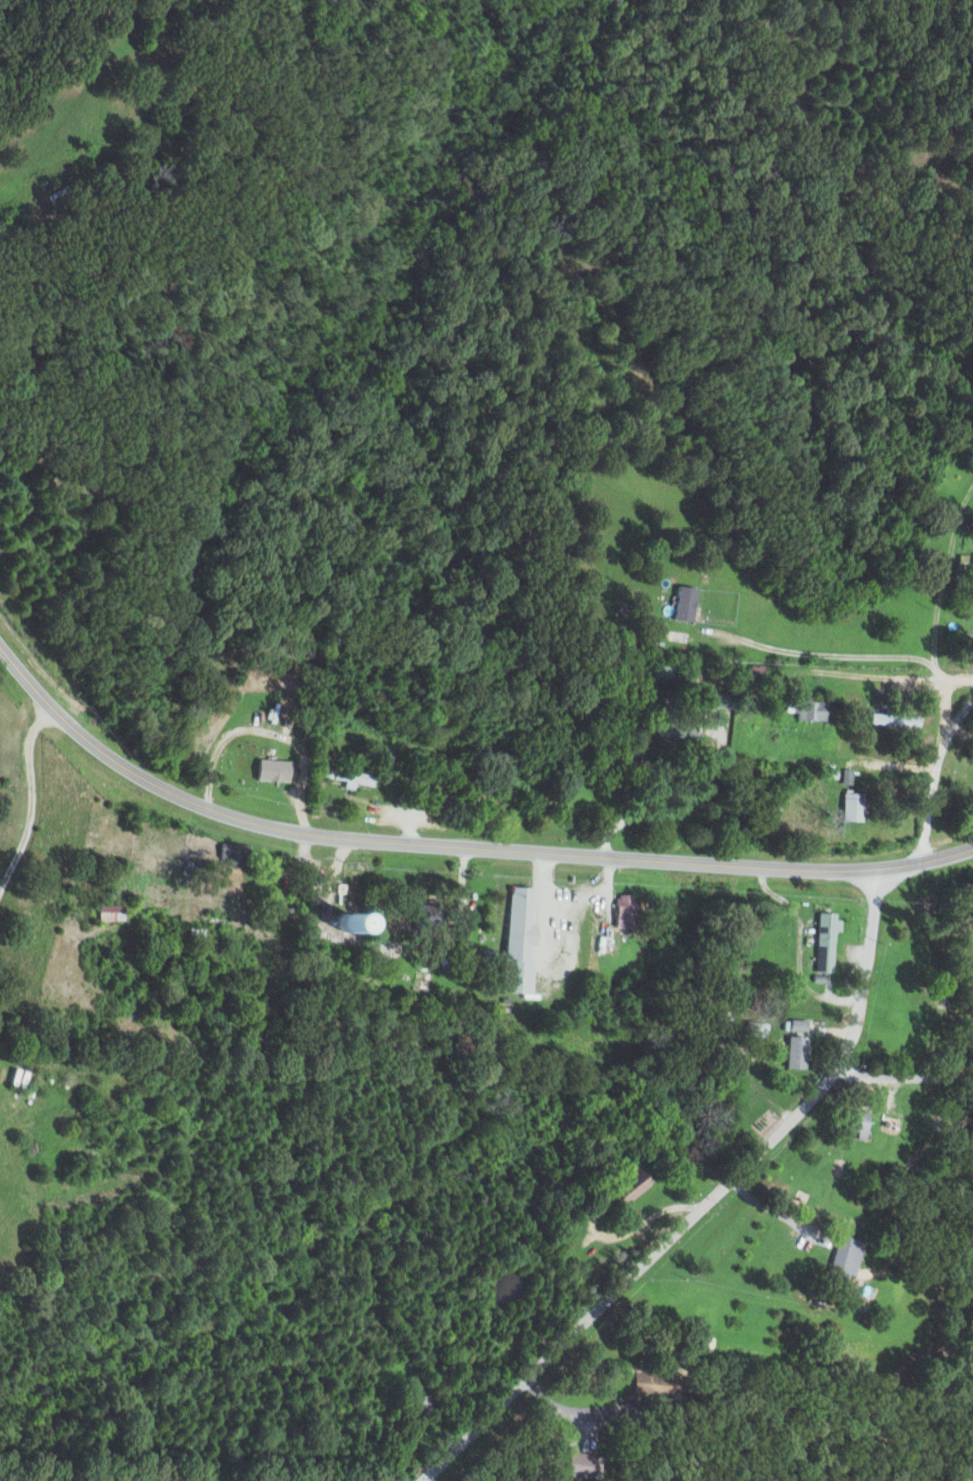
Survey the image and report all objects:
road: (72, 94)
building: (970, 563)
road: (937, 568)
building: (680, 603)
road: (952, 671)
road: (718, 701)
building: (803, 710)
building: (888, 720)
building: (670, 729)
road: (923, 765)
building: (275, 770)
building: (353, 778)
road: (779, 781)
road: (32, 791)
building: (845, 807)
road: (457, 845)
building: (233, 855)
road: (5, 857)
road: (328, 888)
building: (620, 910)
building: (111, 912)
building: (431, 918)
building: (365, 925)
building: (821, 941)
building: (515, 942)
building: (483, 959)
road: (553, 962)
building: (967, 975)
building: (793, 1025)
building: (751, 1033)
building: (790, 1052)
road: (938, 1057)
road: (903, 1072)
building: (849, 1125)
building: (623, 1191)
road: (698, 1205)
road: (775, 1210)
road: (606, 1235)
building: (841, 1259)
road: (549, 1406)
building: (579, 1464)

